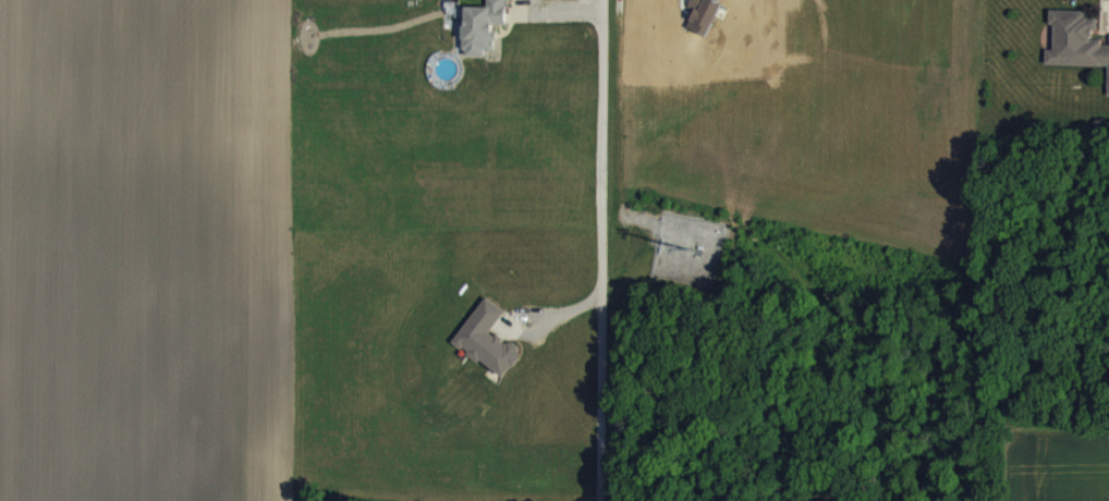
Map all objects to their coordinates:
building: (483, 37)
building: (1076, 52)
road: (602, 250)

